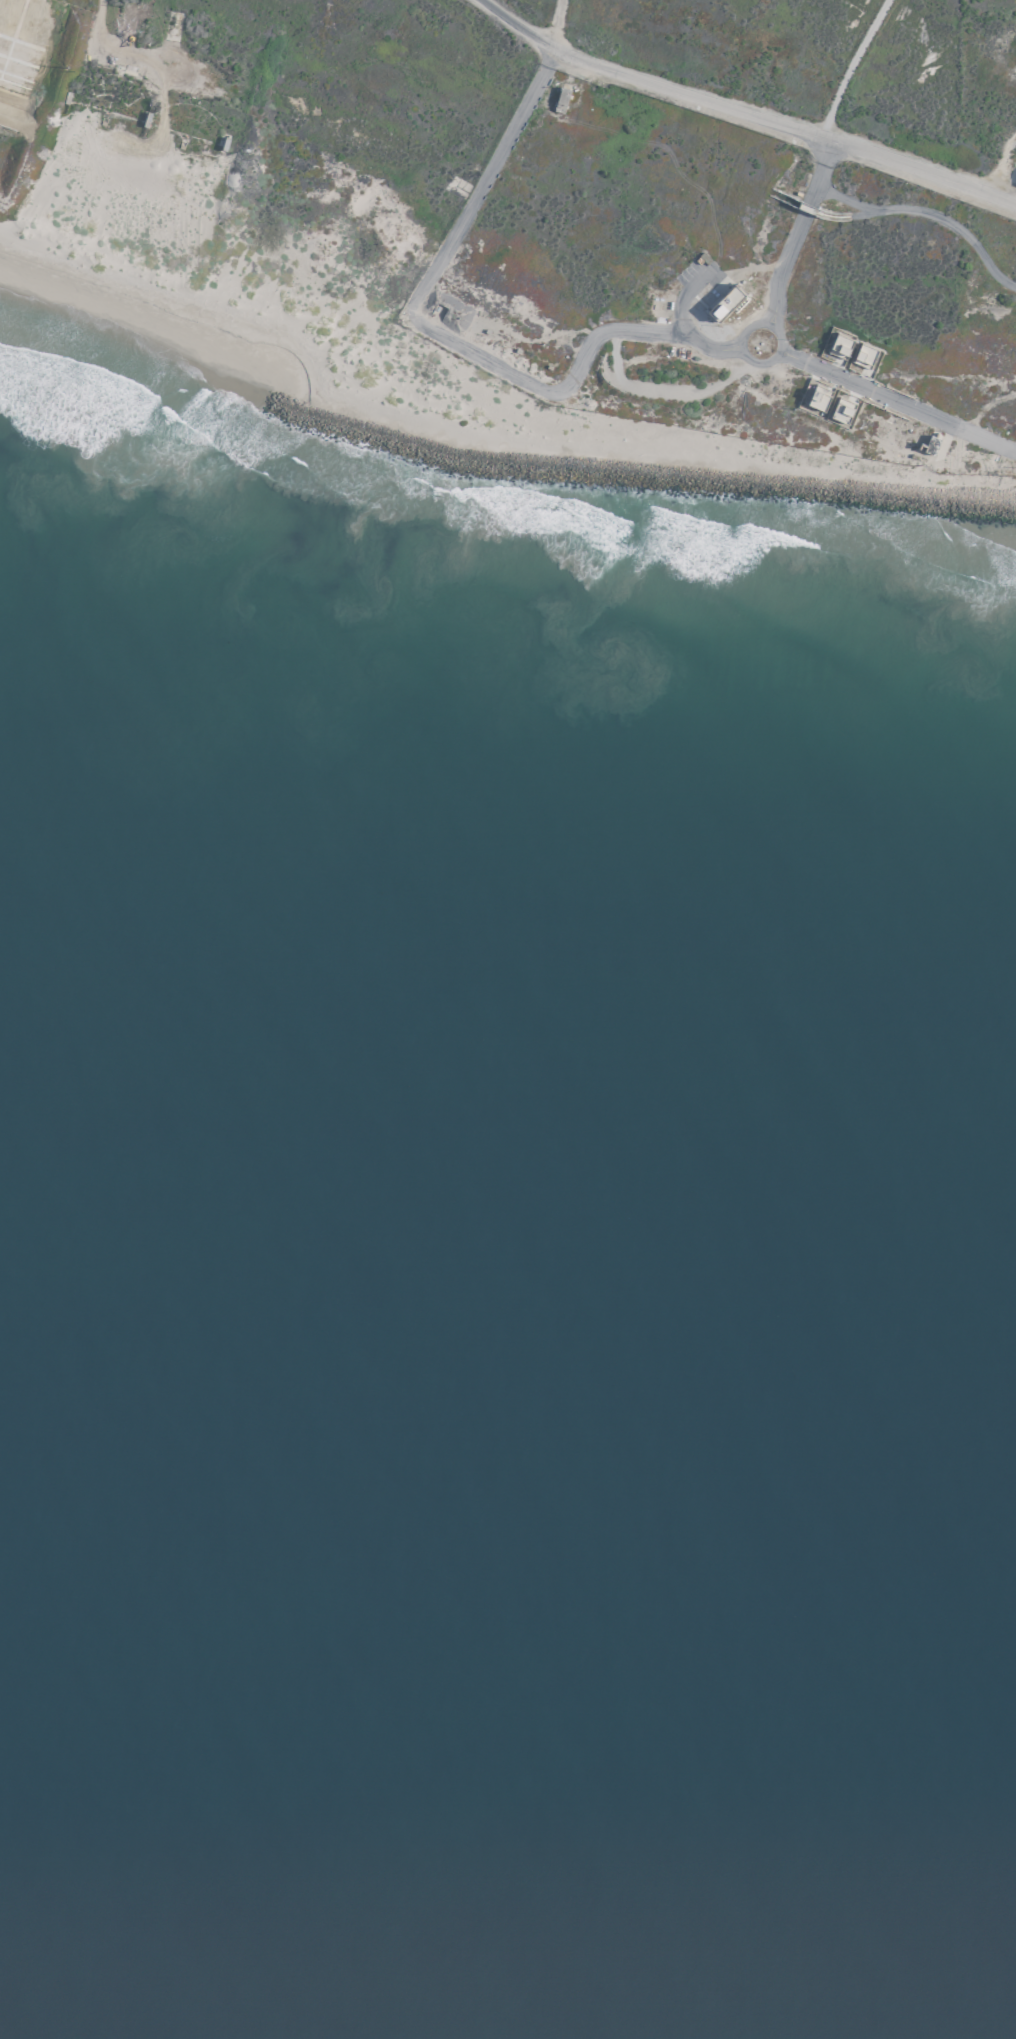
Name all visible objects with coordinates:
road: (742, 114)
road: (815, 173)
building: (1012, 173)
road: (921, 216)
road: (451, 239)
building: (721, 297)
airport: (541, 309)
road: (599, 339)
road: (707, 344)
road: (848, 388)
road: (983, 435)

